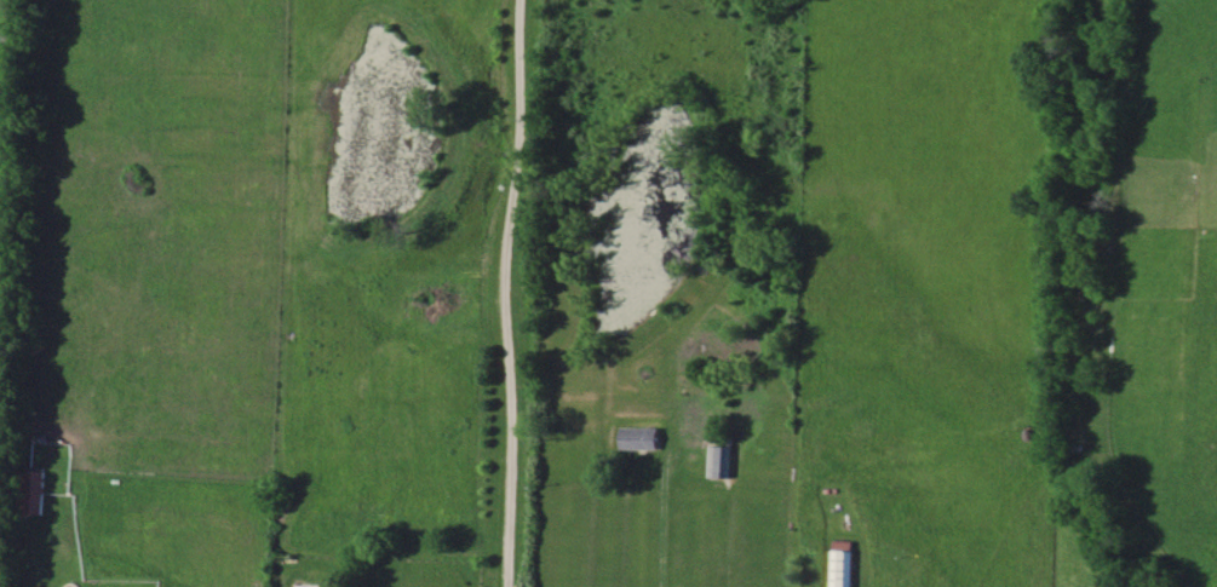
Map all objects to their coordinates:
road: (503, 293)
building: (638, 439)
building: (719, 461)
building: (29, 493)
building: (844, 569)

